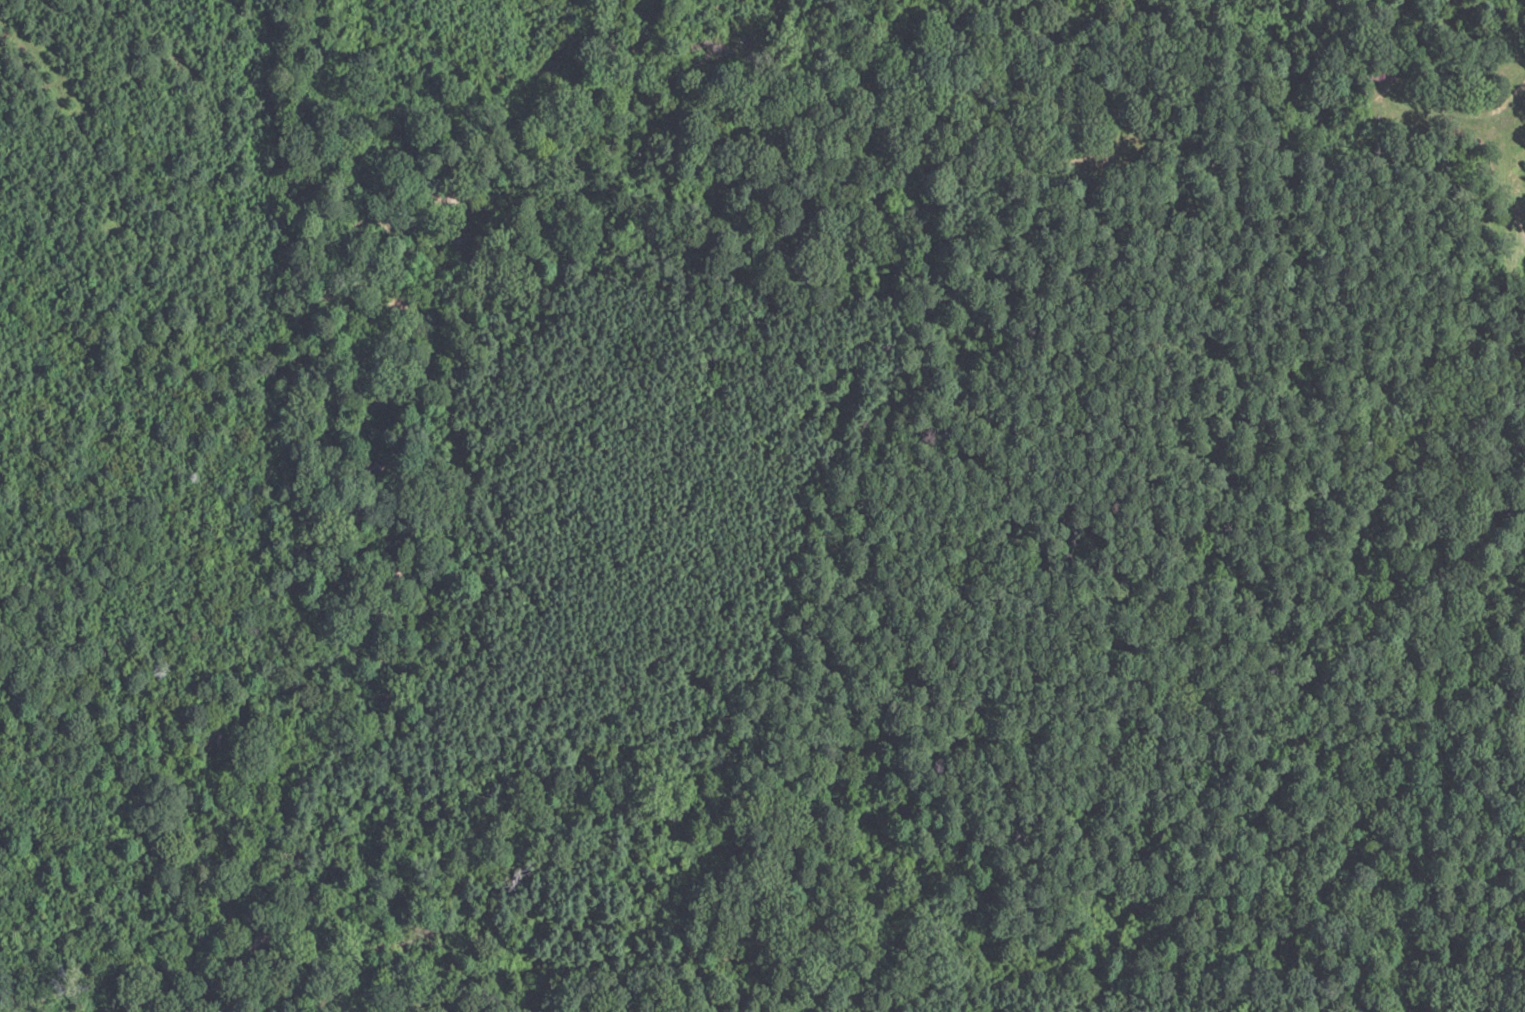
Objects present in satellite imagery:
building: (1382, 70)

